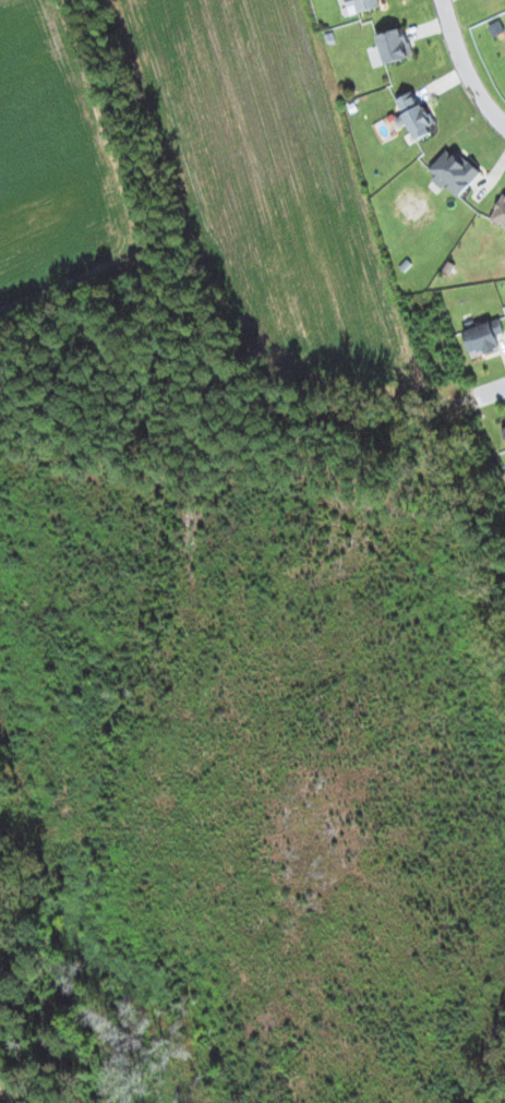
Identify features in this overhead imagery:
building: (361, 5)
building: (394, 45)
road: (462, 67)
building: (413, 115)
building: (453, 171)
building: (500, 212)
building: (482, 337)
road: (484, 394)

